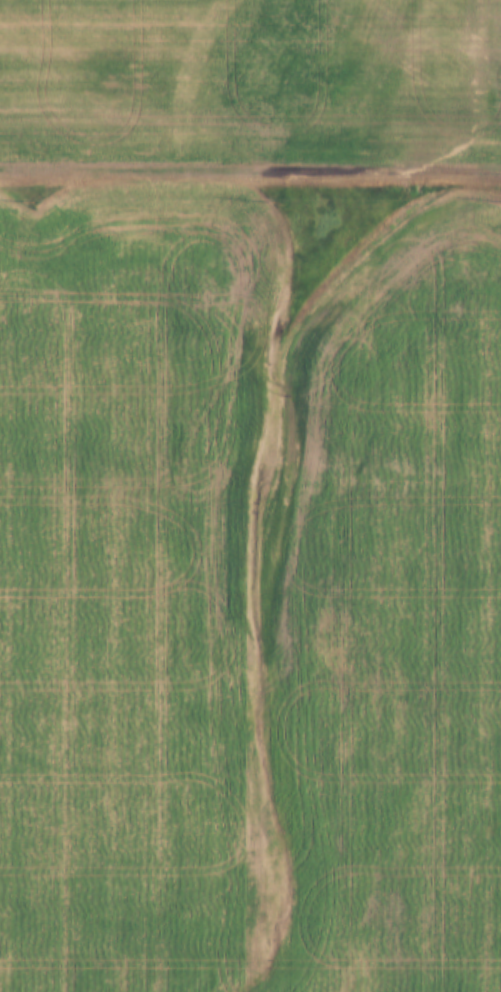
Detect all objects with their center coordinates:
road: (250, 163)

